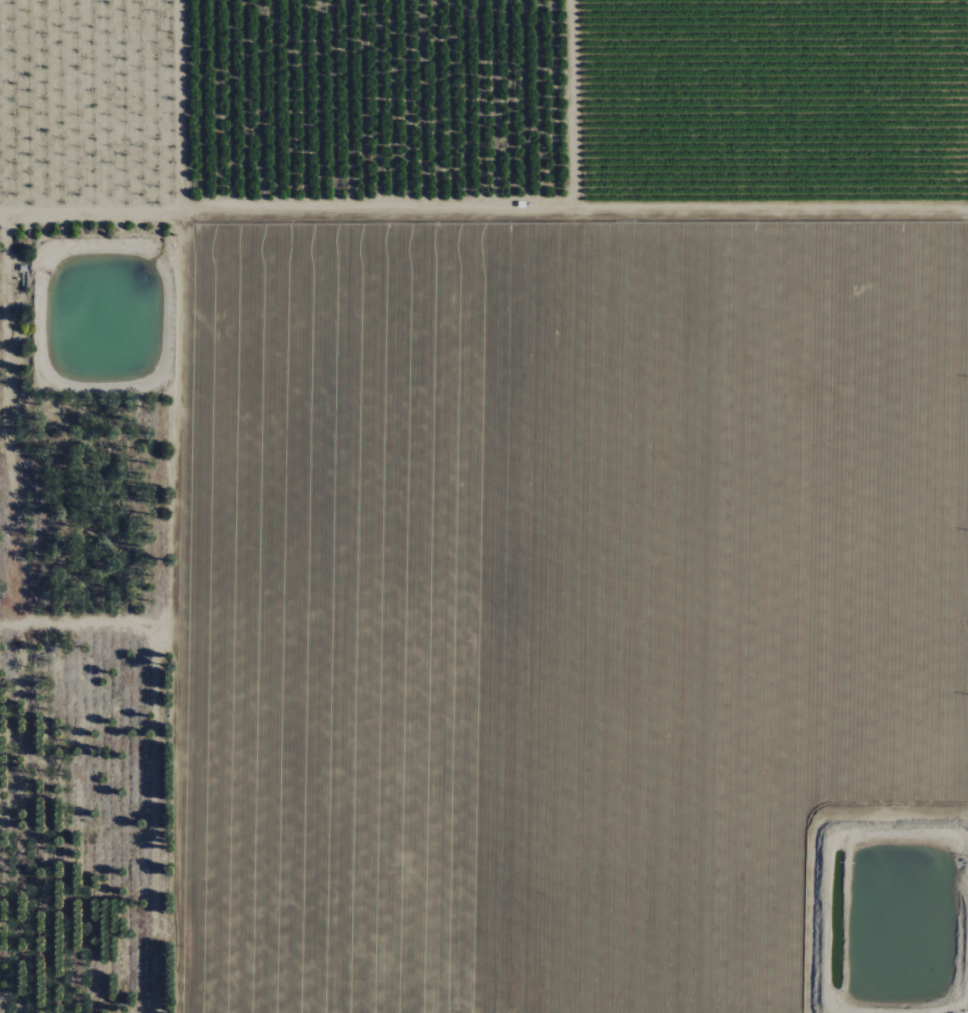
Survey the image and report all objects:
road: (179, 107)
road: (483, 211)

